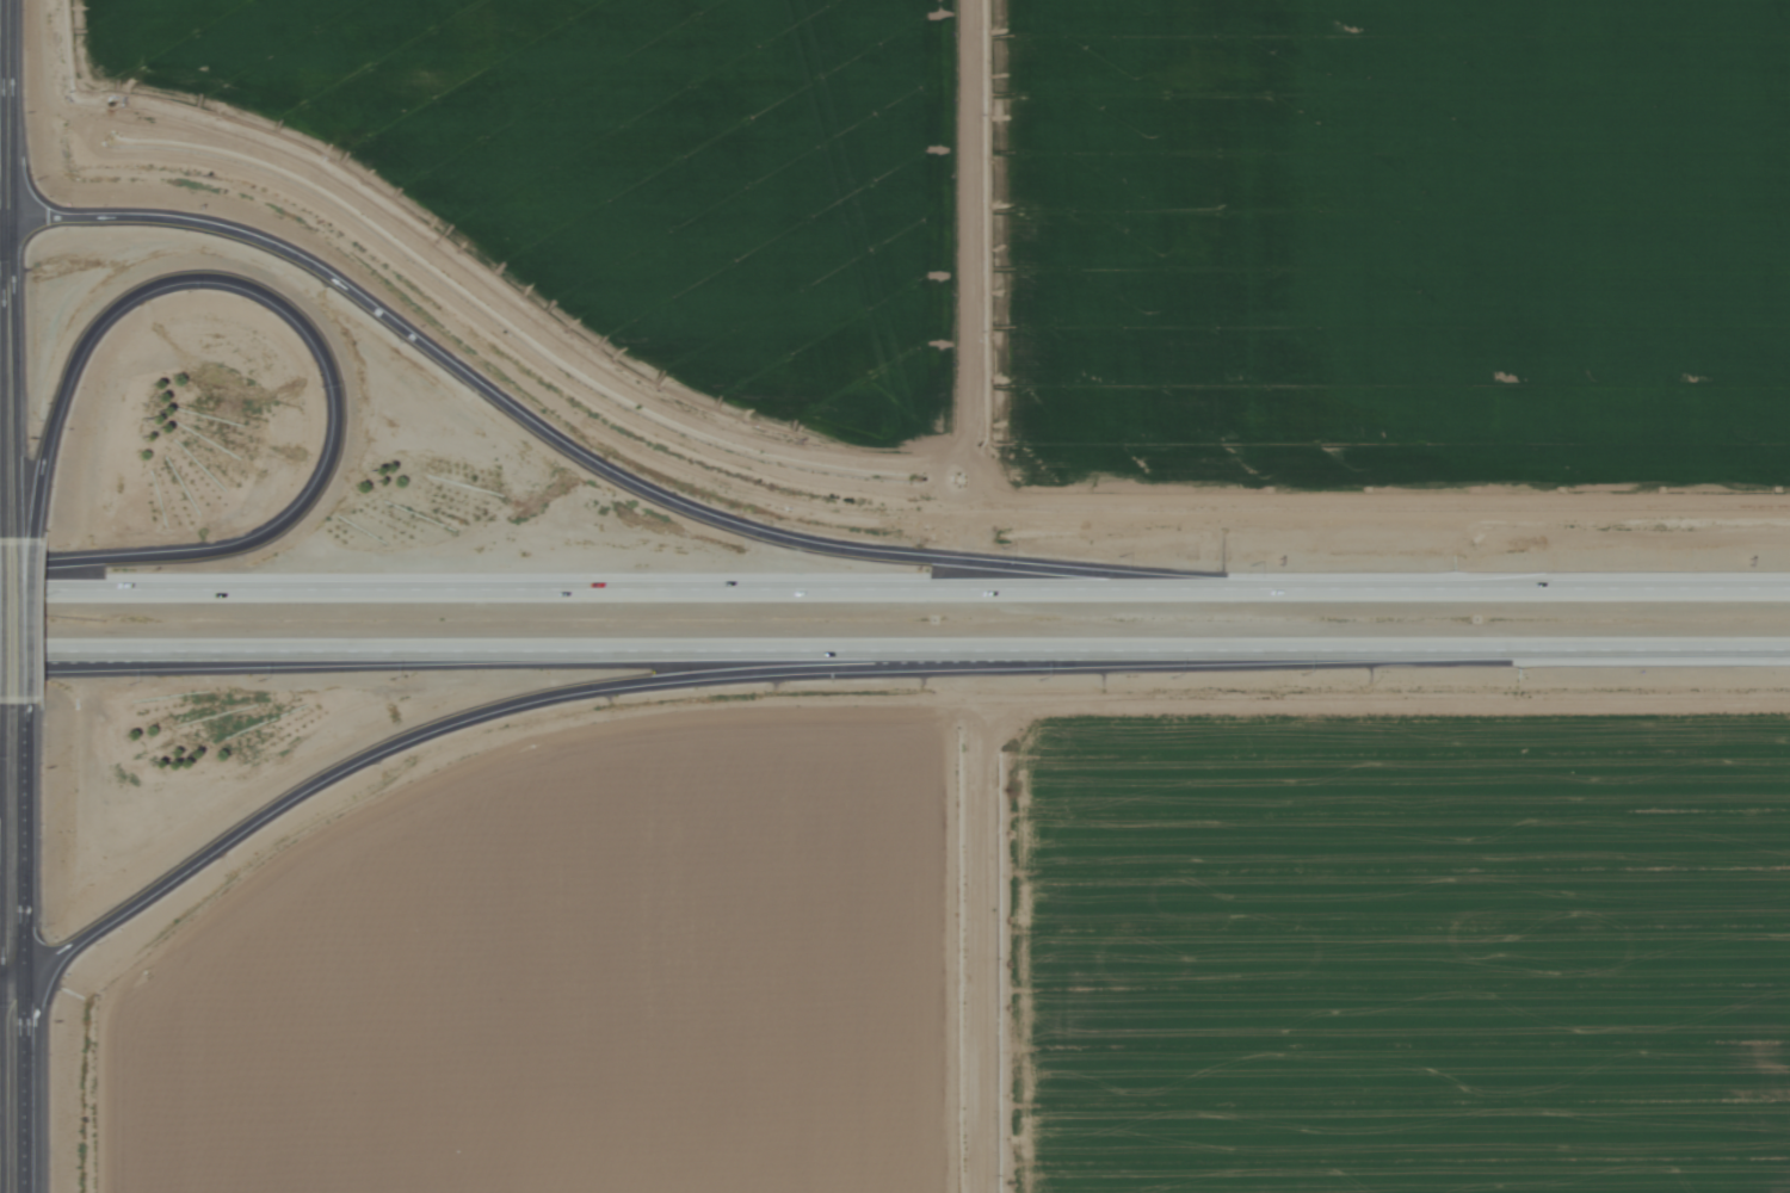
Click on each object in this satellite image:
road: (2, 70)
road: (1, 147)
road: (4, 184)
road: (2, 227)
road: (305, 335)
road: (7, 392)
road: (658, 499)
road: (895, 589)
road: (13, 631)
road: (895, 651)
road: (155, 661)
road: (564, 693)
road: (6, 746)
road: (10, 840)
road: (4, 978)
road: (7, 1084)

